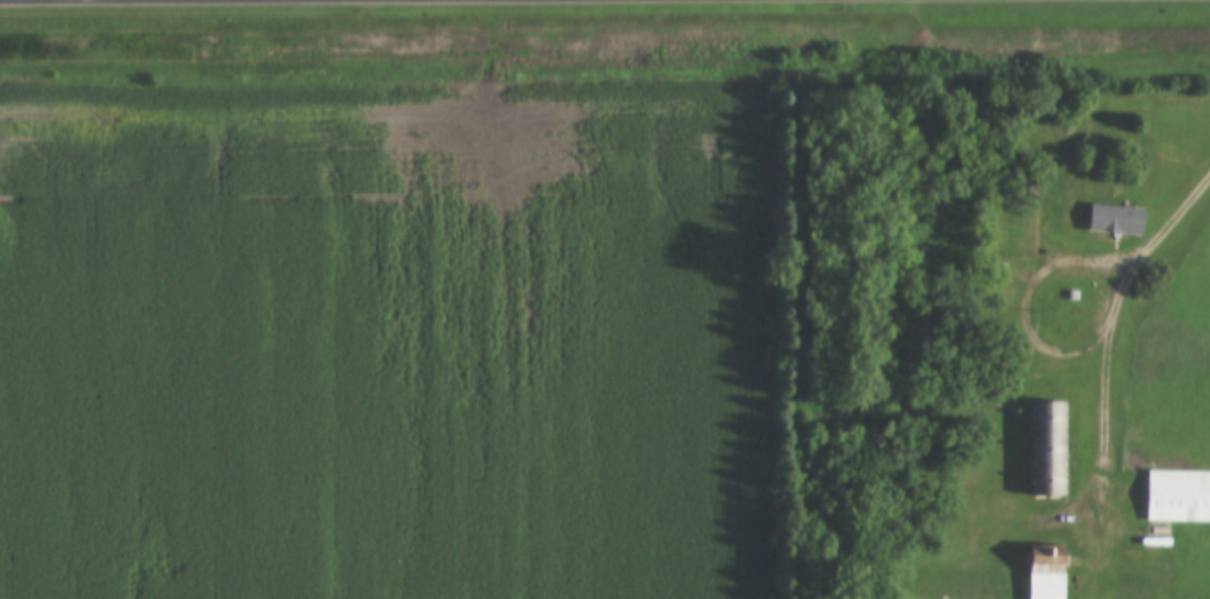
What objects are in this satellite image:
road: (1180, 219)
building: (1115, 221)
building: (1001, 266)
road: (1030, 325)
building: (1047, 449)
building: (1177, 496)
road: (1019, 525)
building: (1046, 572)

